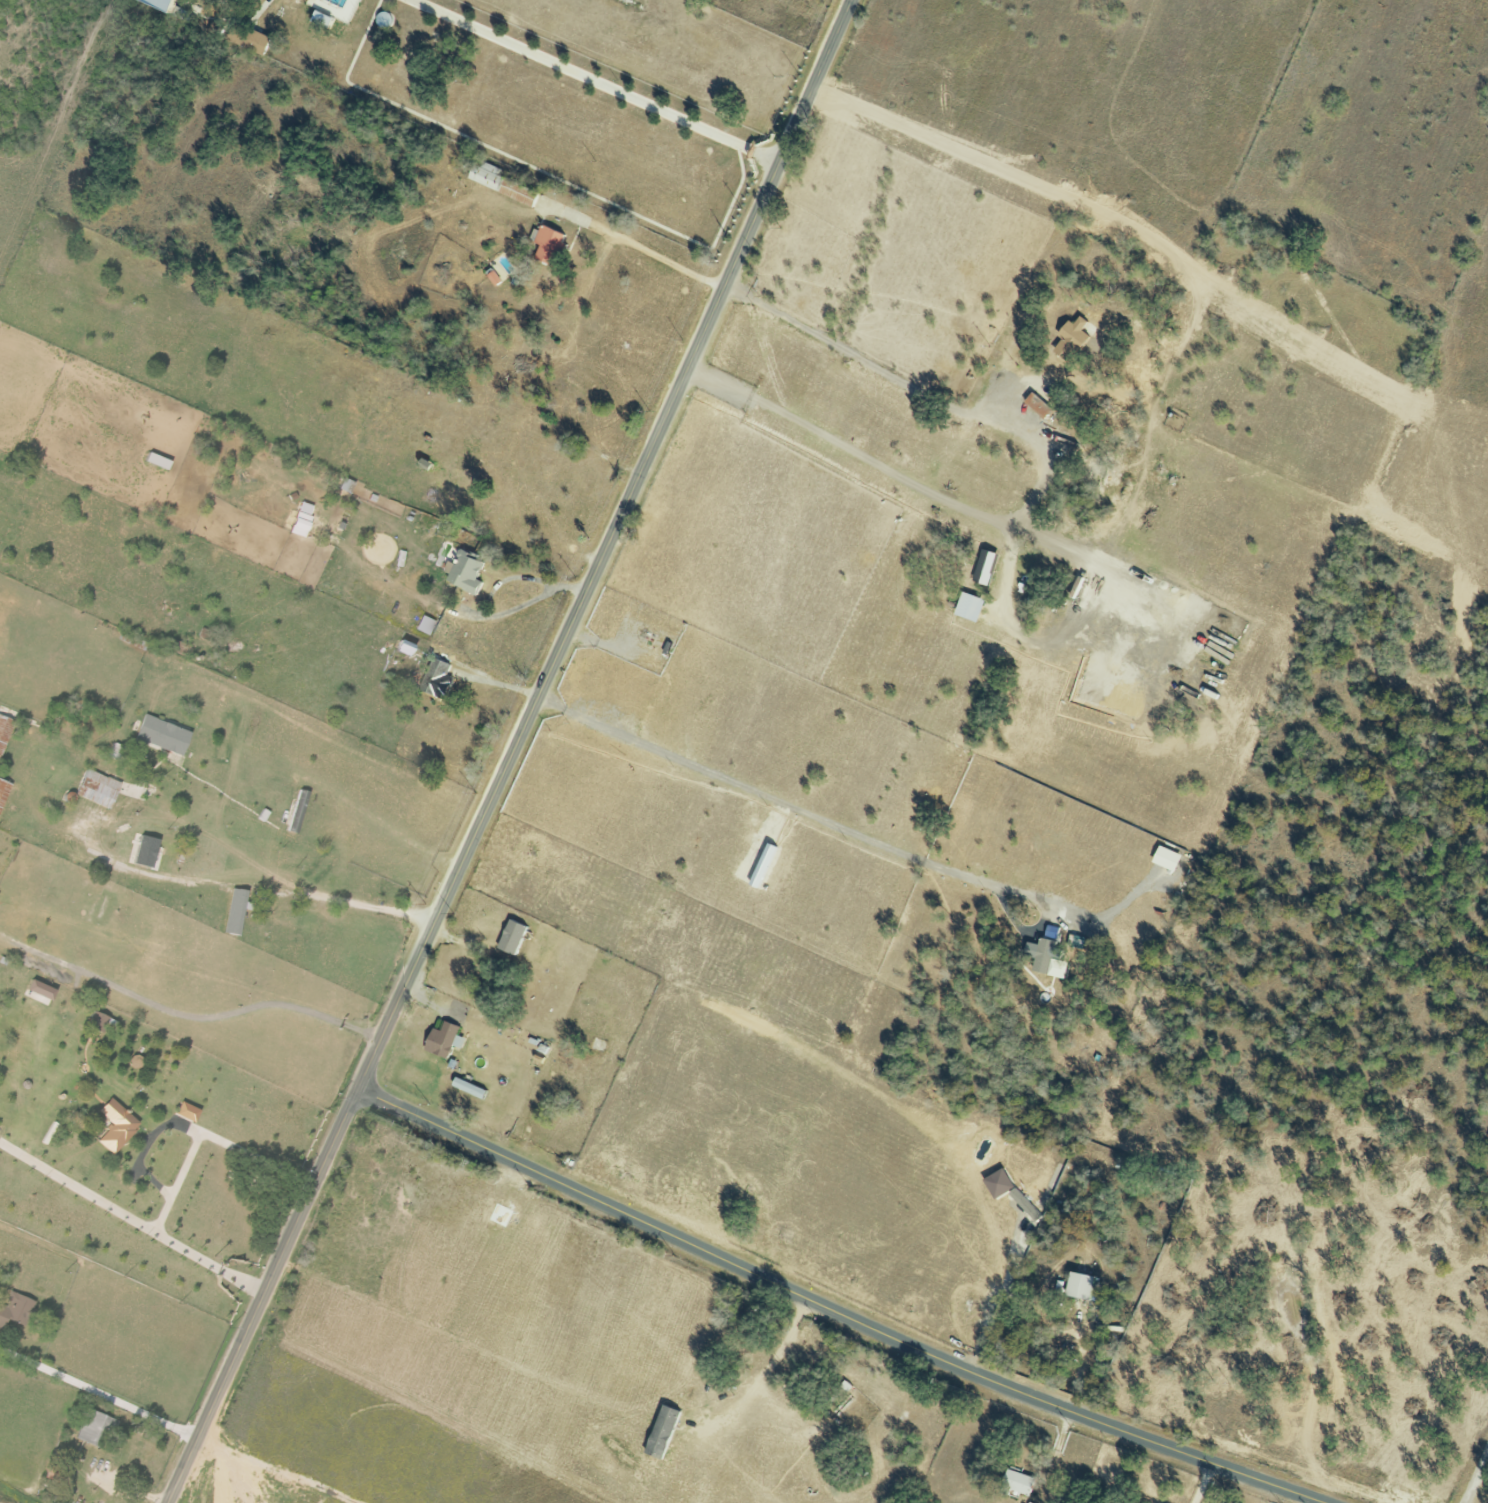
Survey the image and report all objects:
road: (260, 9)
building: (248, 38)
road: (593, 81)
building: (500, 183)
building: (547, 244)
road: (653, 254)
road: (587, 295)
building: (1069, 339)
building: (1036, 405)
road: (525, 444)
road: (1038, 486)
building: (298, 524)
building: (464, 572)
building: (963, 605)
road: (522, 609)
building: (434, 676)
building: (3, 729)
building: (159, 734)
road: (514, 752)
building: (95, 788)
building: (2, 791)
road: (831, 824)
road: (389, 831)
building: (141, 851)
road: (147, 874)
building: (231, 912)
building: (510, 937)
building: (1040, 954)
building: (38, 990)
road: (186, 1015)
building: (95, 1022)
building: (443, 1040)
road: (42, 1100)
building: (185, 1109)
building: (114, 1126)
road: (32, 1133)
road: (210, 1141)
road: (78, 1190)
road: (210, 1265)
building: (1080, 1286)
road: (833, 1309)
building: (12, 1310)
road: (100, 1390)
building: (92, 1428)
building: (660, 1432)
road: (1054, 1454)
building: (59, 1476)
road: (1477, 1480)
building: (1016, 1482)
road: (1204, 1484)
road: (31, 1489)

